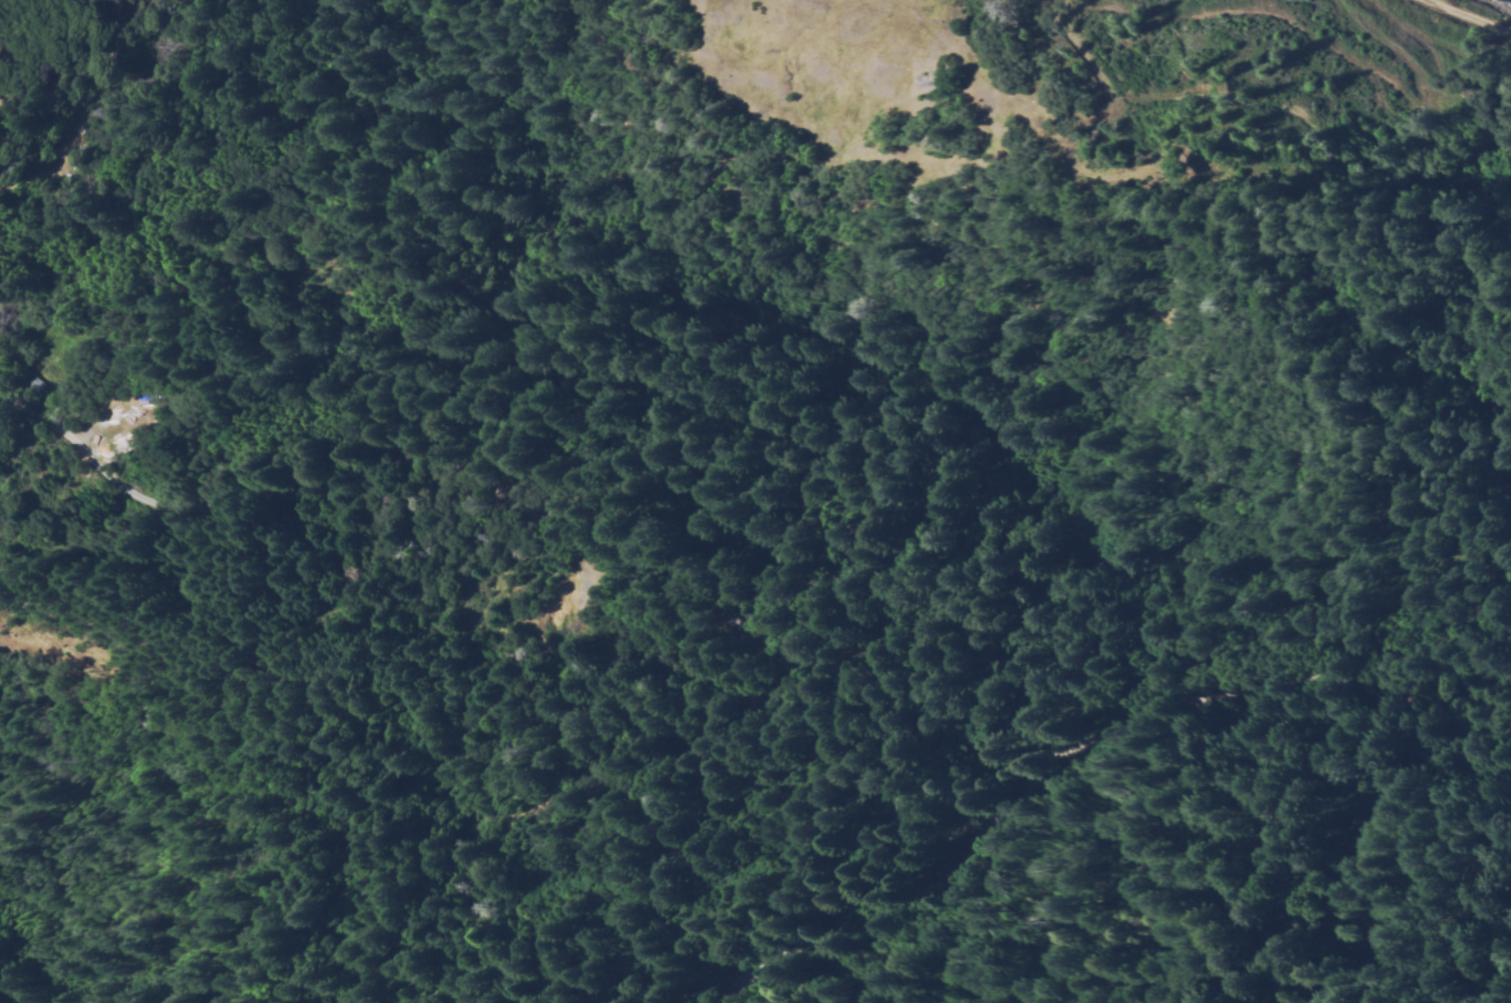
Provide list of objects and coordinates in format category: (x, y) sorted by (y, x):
building: (34, 385)
building: (592, 606)
building: (573, 618)
building: (582, 630)
road: (892, 653)

